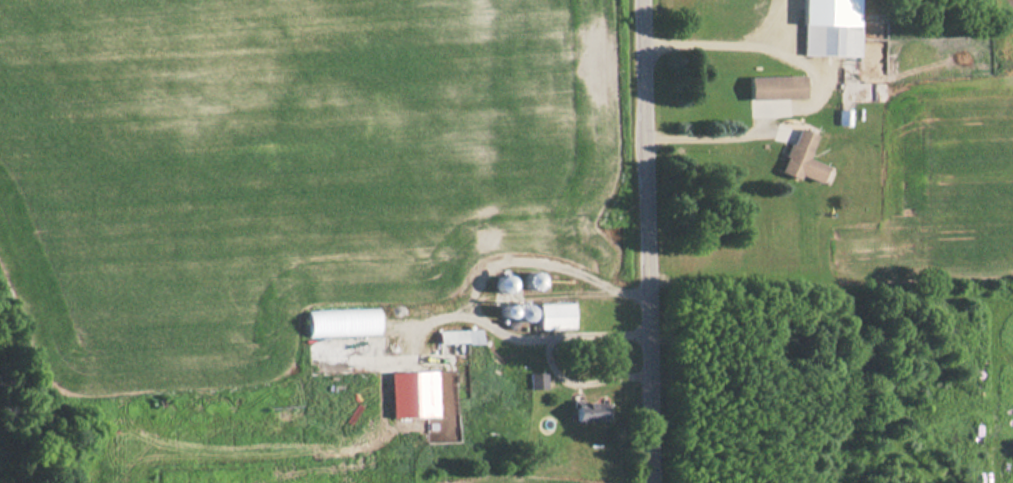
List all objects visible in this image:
building: (831, 40)
building: (773, 95)
building: (783, 130)
building: (802, 158)
road: (651, 241)
building: (503, 283)
building: (523, 313)
building: (555, 316)
building: (342, 323)
building: (471, 336)
building: (537, 380)
building: (414, 393)
building: (591, 412)

